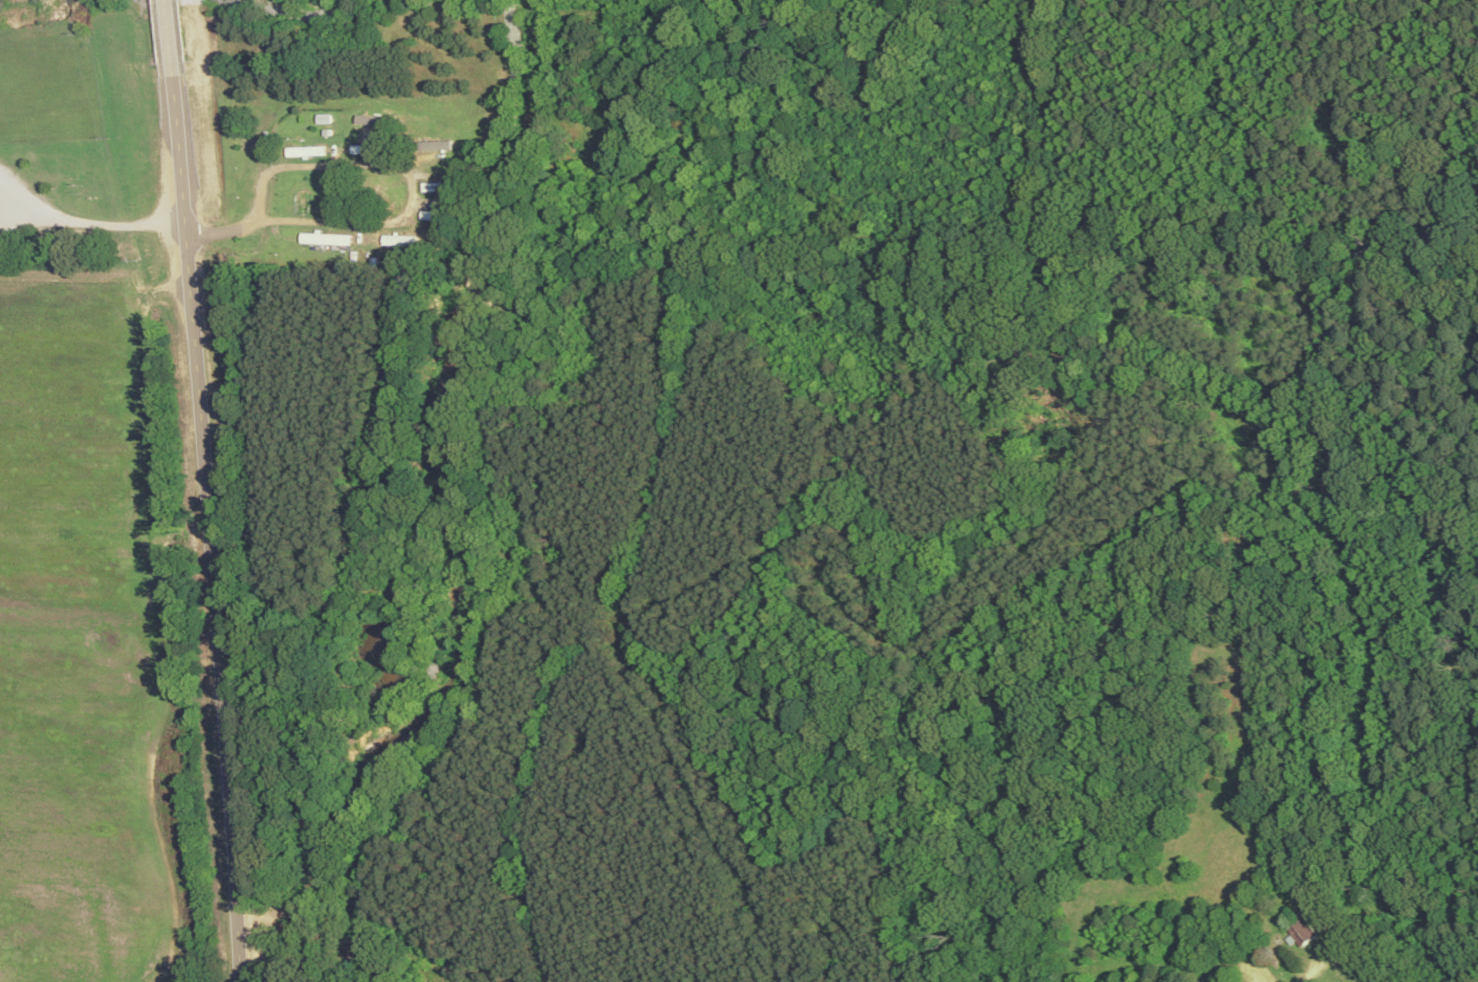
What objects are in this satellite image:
road: (171, 31)
building: (371, 147)
building: (308, 150)
building: (442, 186)
road: (412, 199)
building: (440, 215)
road: (311, 239)
road: (215, 522)
building: (1304, 929)

